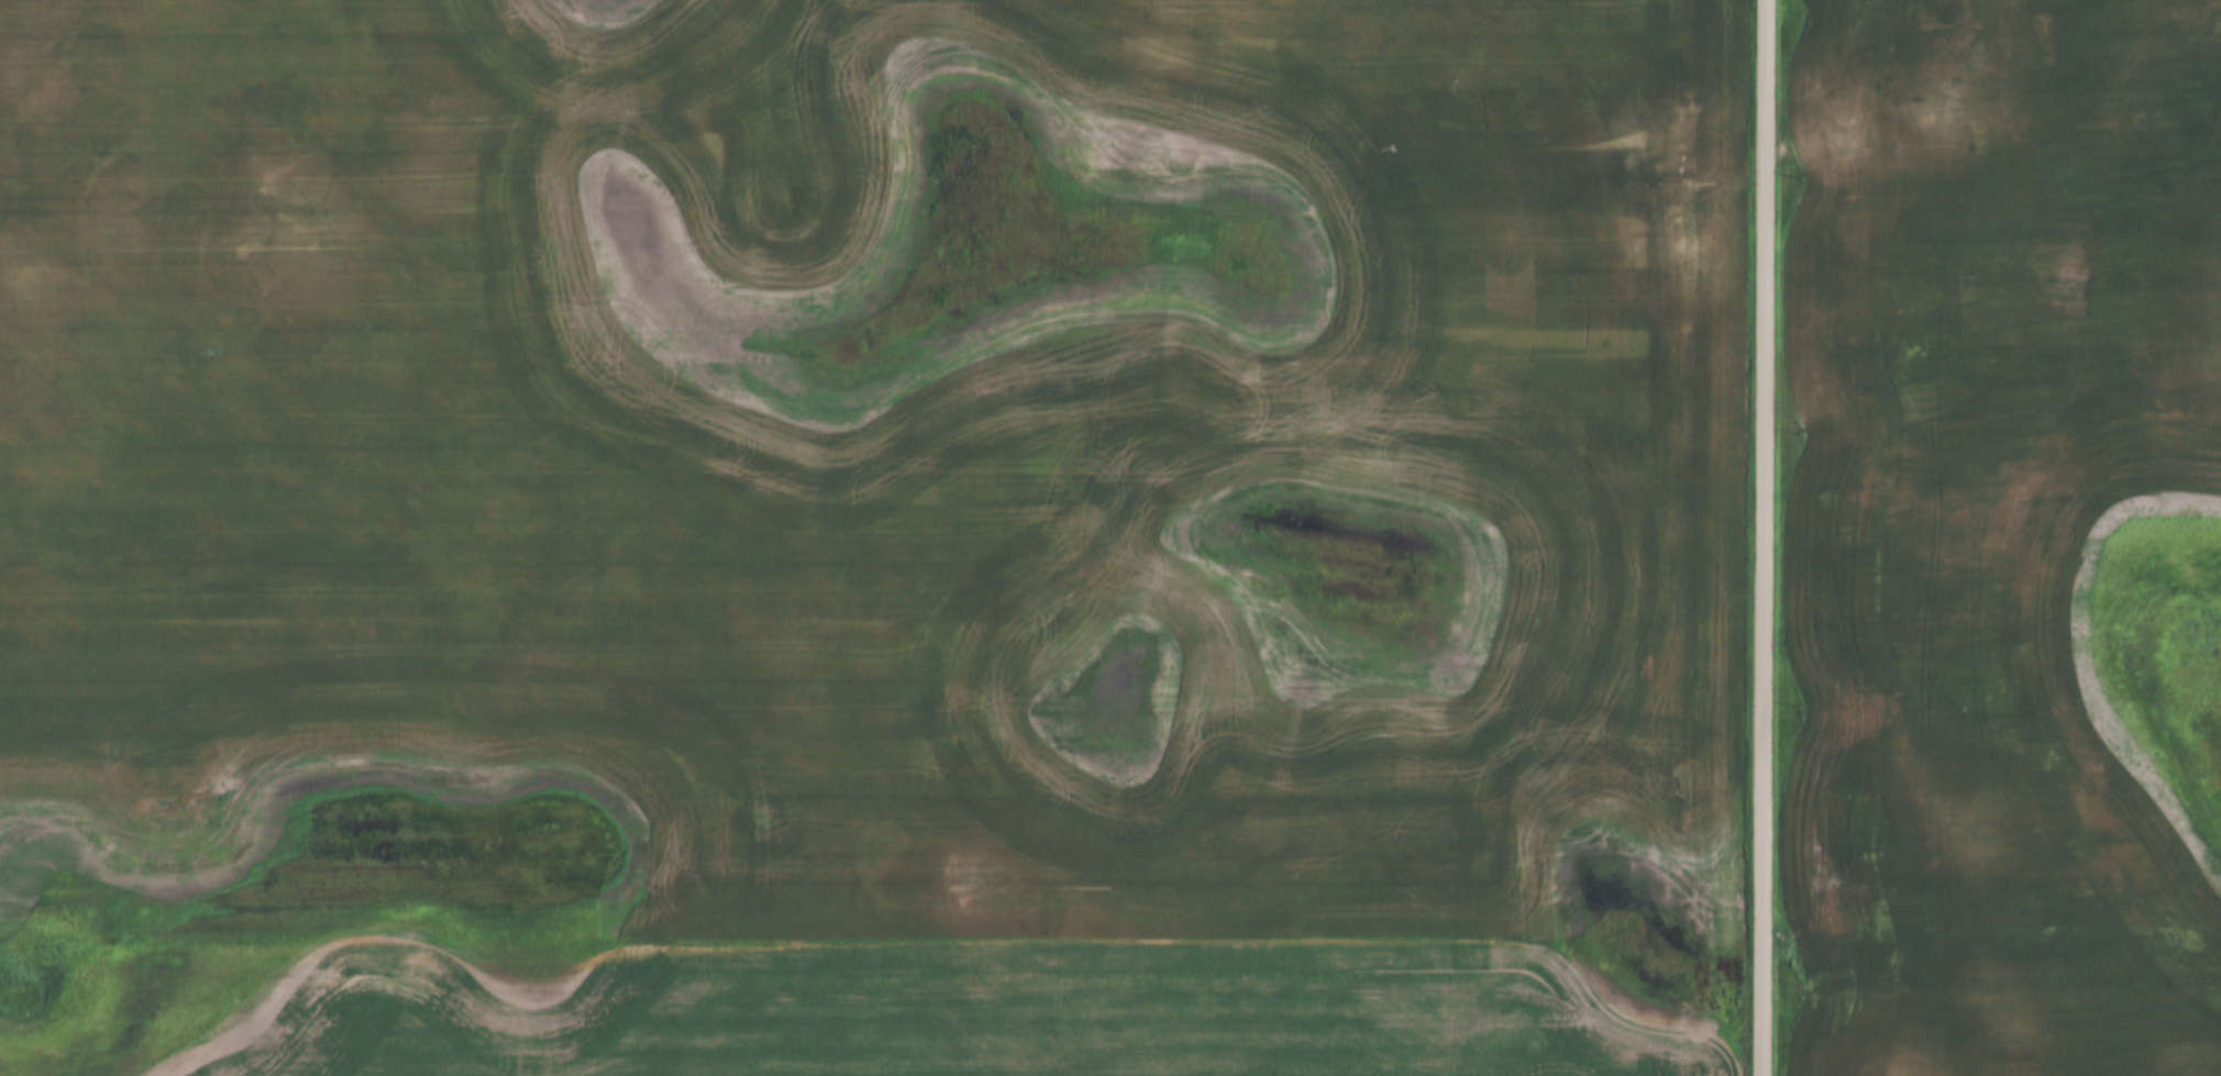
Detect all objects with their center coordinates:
road: (1765, 537)
crop: (883, 1014)

